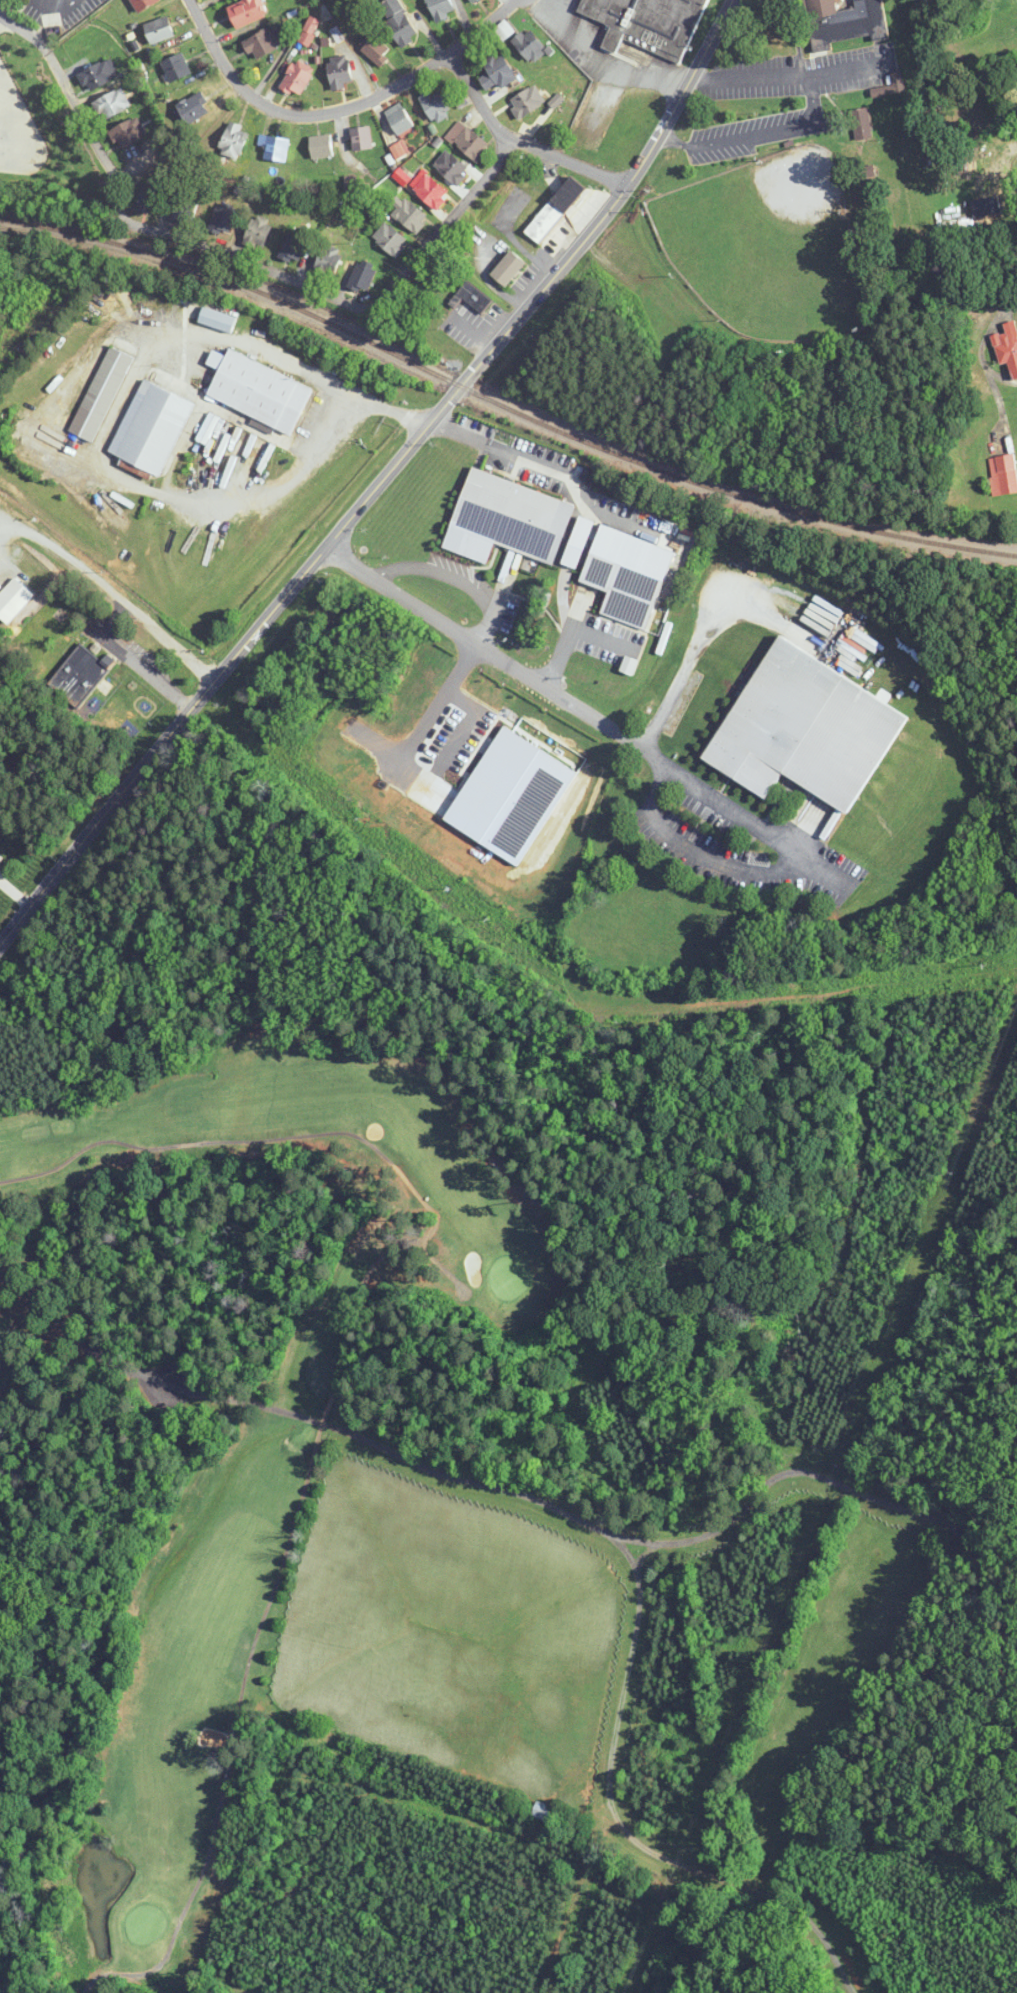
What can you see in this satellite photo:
building: (471, 0)
building: (143, 4)
road: (58, 5)
building: (441, 8)
building: (247, 12)
building: (399, 21)
building: (844, 22)
building: (649, 23)
building: (159, 30)
building: (504, 30)
building: (309, 31)
building: (263, 43)
building: (530, 45)
building: (376, 49)
road: (603, 62)
building: (176, 67)
road: (846, 69)
building: (339, 71)
building: (498, 72)
building: (99, 74)
road: (752, 76)
building: (297, 77)
building: (891, 86)
road: (812, 97)
building: (526, 101)
building: (112, 103)
building: (436, 105)
building: (193, 109)
road: (339, 109)
building: (399, 119)
building: (128, 132)
building: (361, 138)
road: (520, 139)
road: (736, 139)
building: (234, 140)
building: (468, 141)
building: (321, 145)
building: (274, 147)
building: (400, 150)
building: (451, 167)
building: (401, 176)
building: (353, 183)
building: (430, 191)
building: (150, 195)
building: (186, 206)
building: (555, 210)
building: (409, 214)
building: (222, 218)
building: (258, 231)
building: (390, 239)
park: (765, 243)
building: (293, 246)
road: (239, 258)
building: (328, 260)
building: (508, 268)
building: (362, 277)
building: (472, 299)
building: (217, 319)
road: (982, 345)
building: (1007, 346)
building: (260, 392)
building: (101, 394)
railway: (502, 402)
building: (151, 428)
road: (318, 442)
road: (501, 450)
building: (1003, 475)
road: (380, 481)
building: (507, 520)
road: (436, 572)
road: (109, 592)
building: (13, 599)
road: (497, 600)
road: (568, 634)
road: (686, 665)
building: (79, 674)
road: (432, 694)
road: (589, 713)
building: (805, 729)
road: (698, 853)
road: (91, 1345)
park: (198, 1425)
road: (406, 1458)
road: (821, 1475)
building: (542, 1810)
road: (620, 1824)

